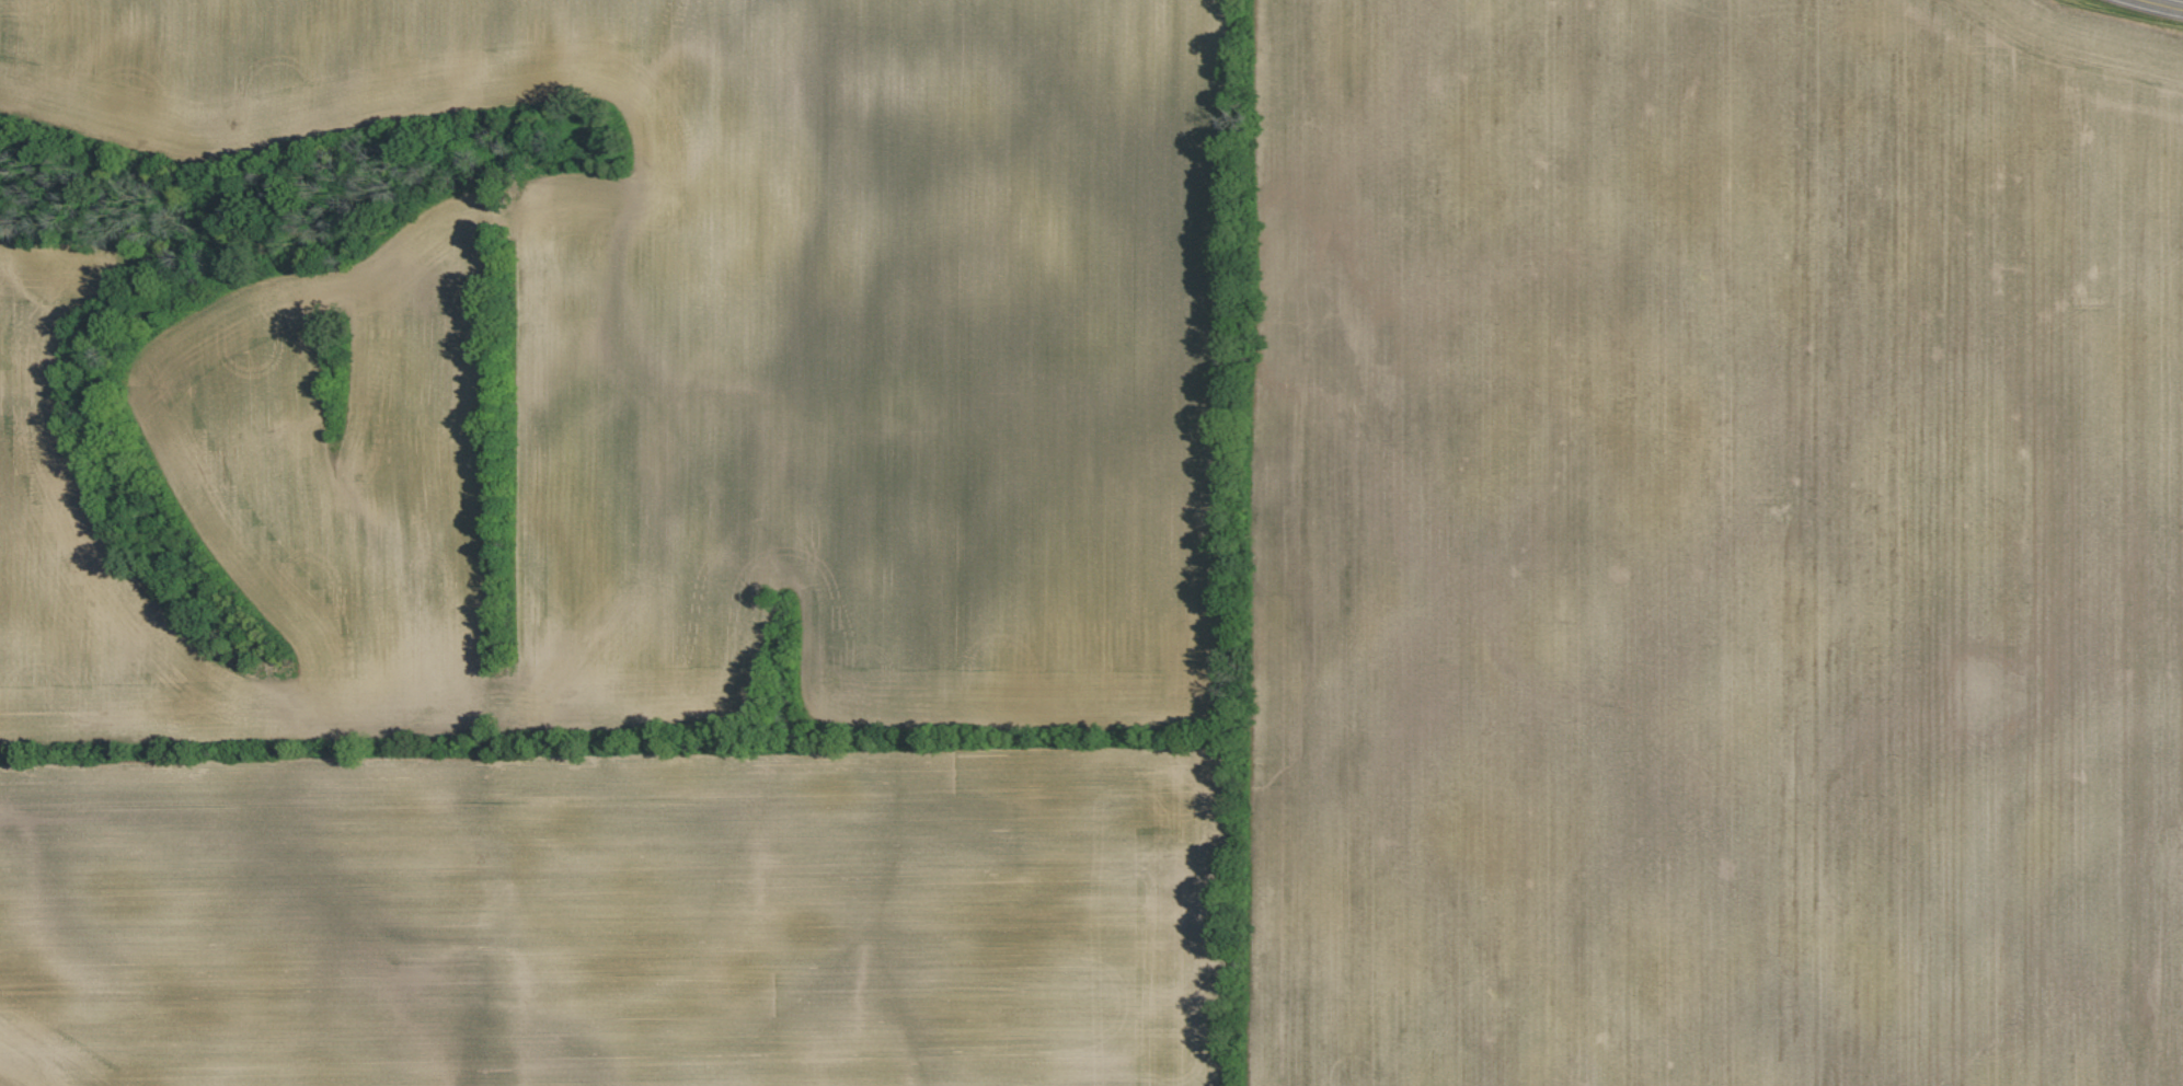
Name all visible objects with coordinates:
road: (2172, 2)

